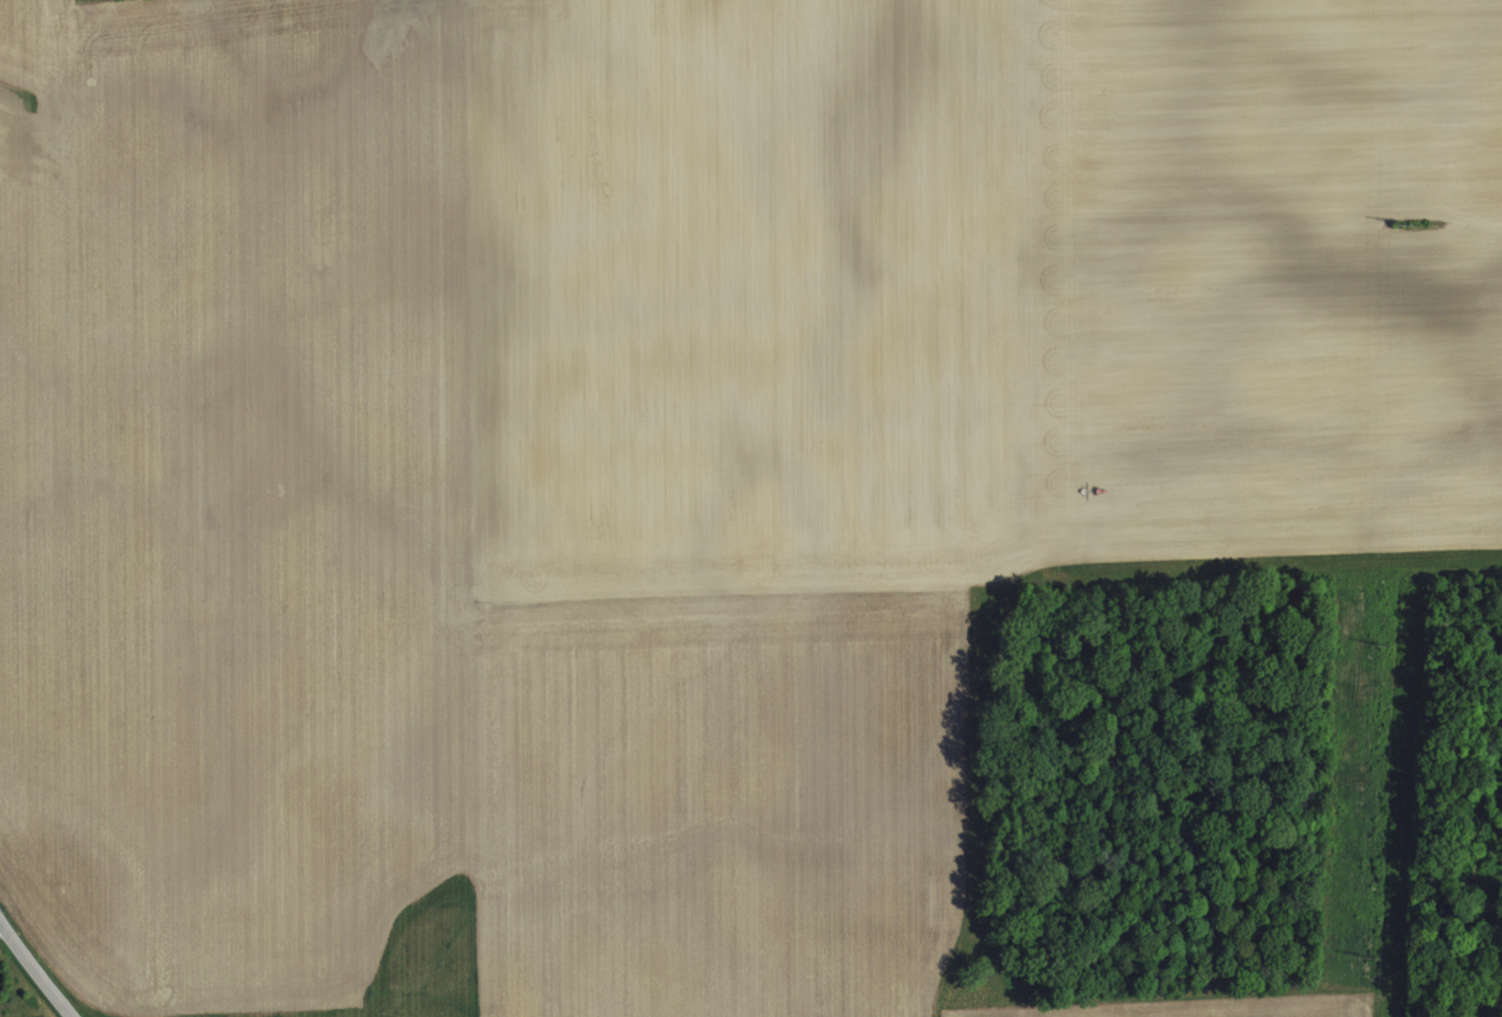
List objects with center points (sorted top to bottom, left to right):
road: (43, 960)

